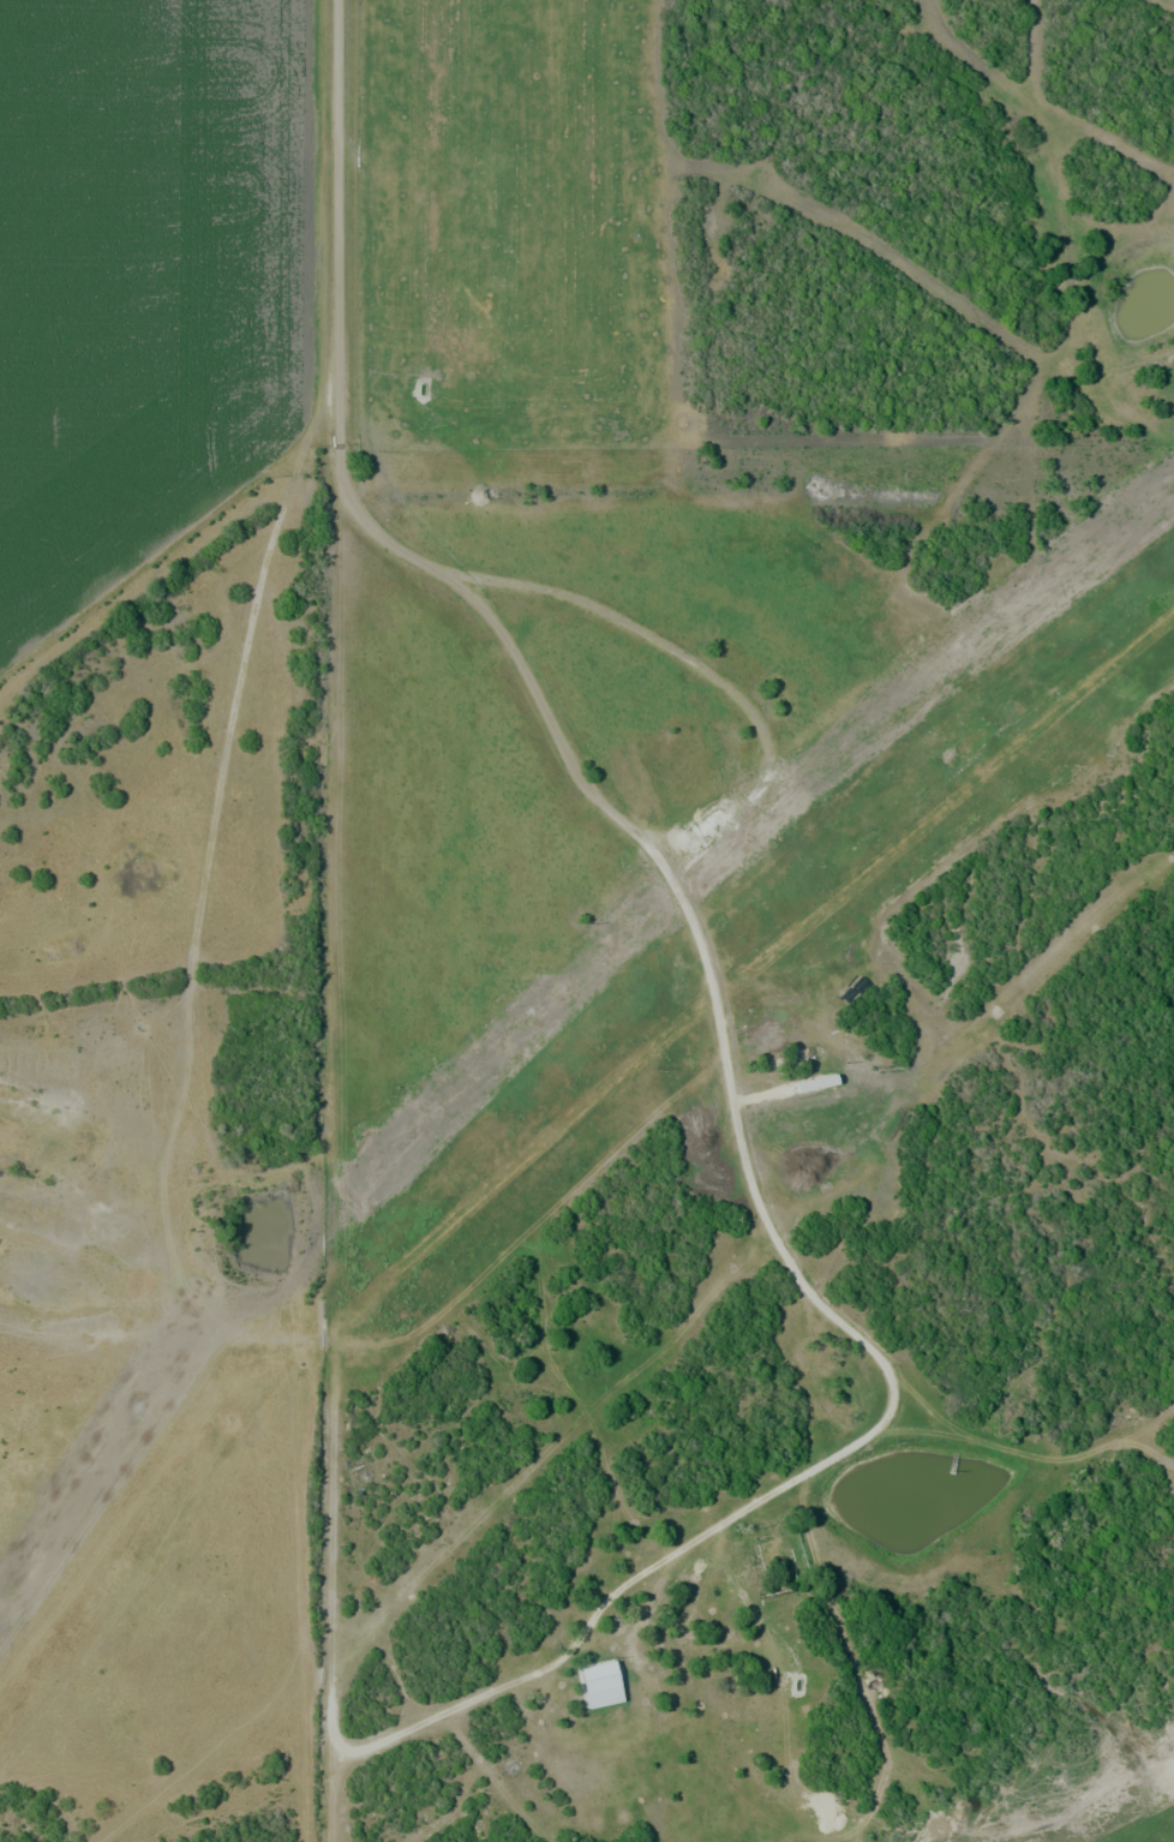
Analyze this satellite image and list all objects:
road: (544, 704)
road: (1034, 1451)
road: (496, 1696)

